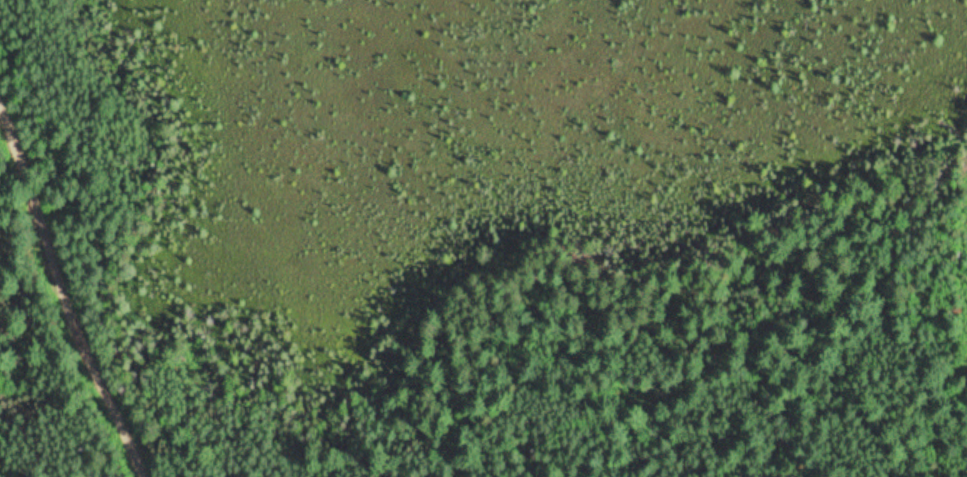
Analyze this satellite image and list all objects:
road: (69, 300)

